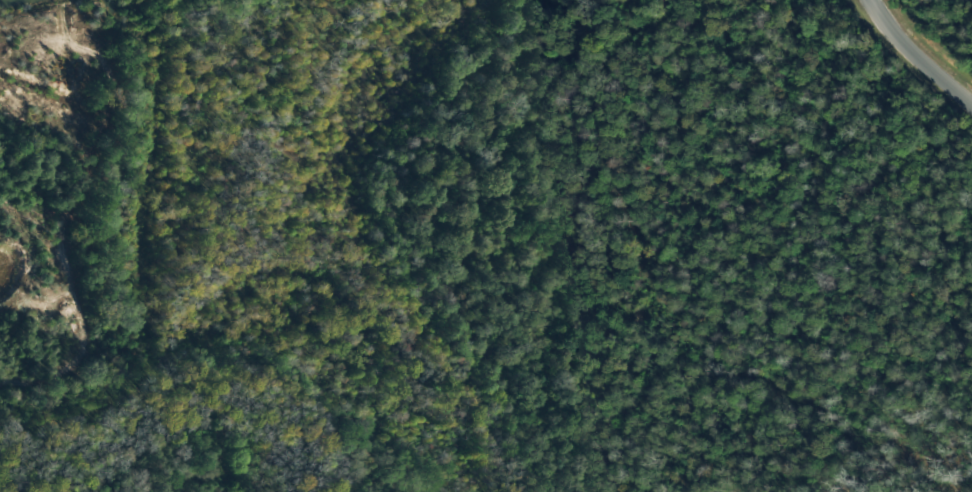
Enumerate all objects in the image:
road: (918, 53)

